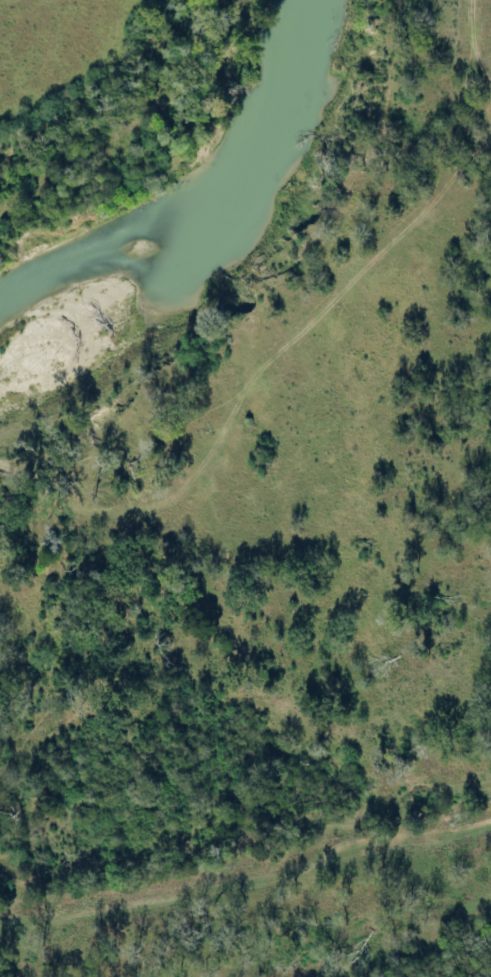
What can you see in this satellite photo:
river: (200, 201)

